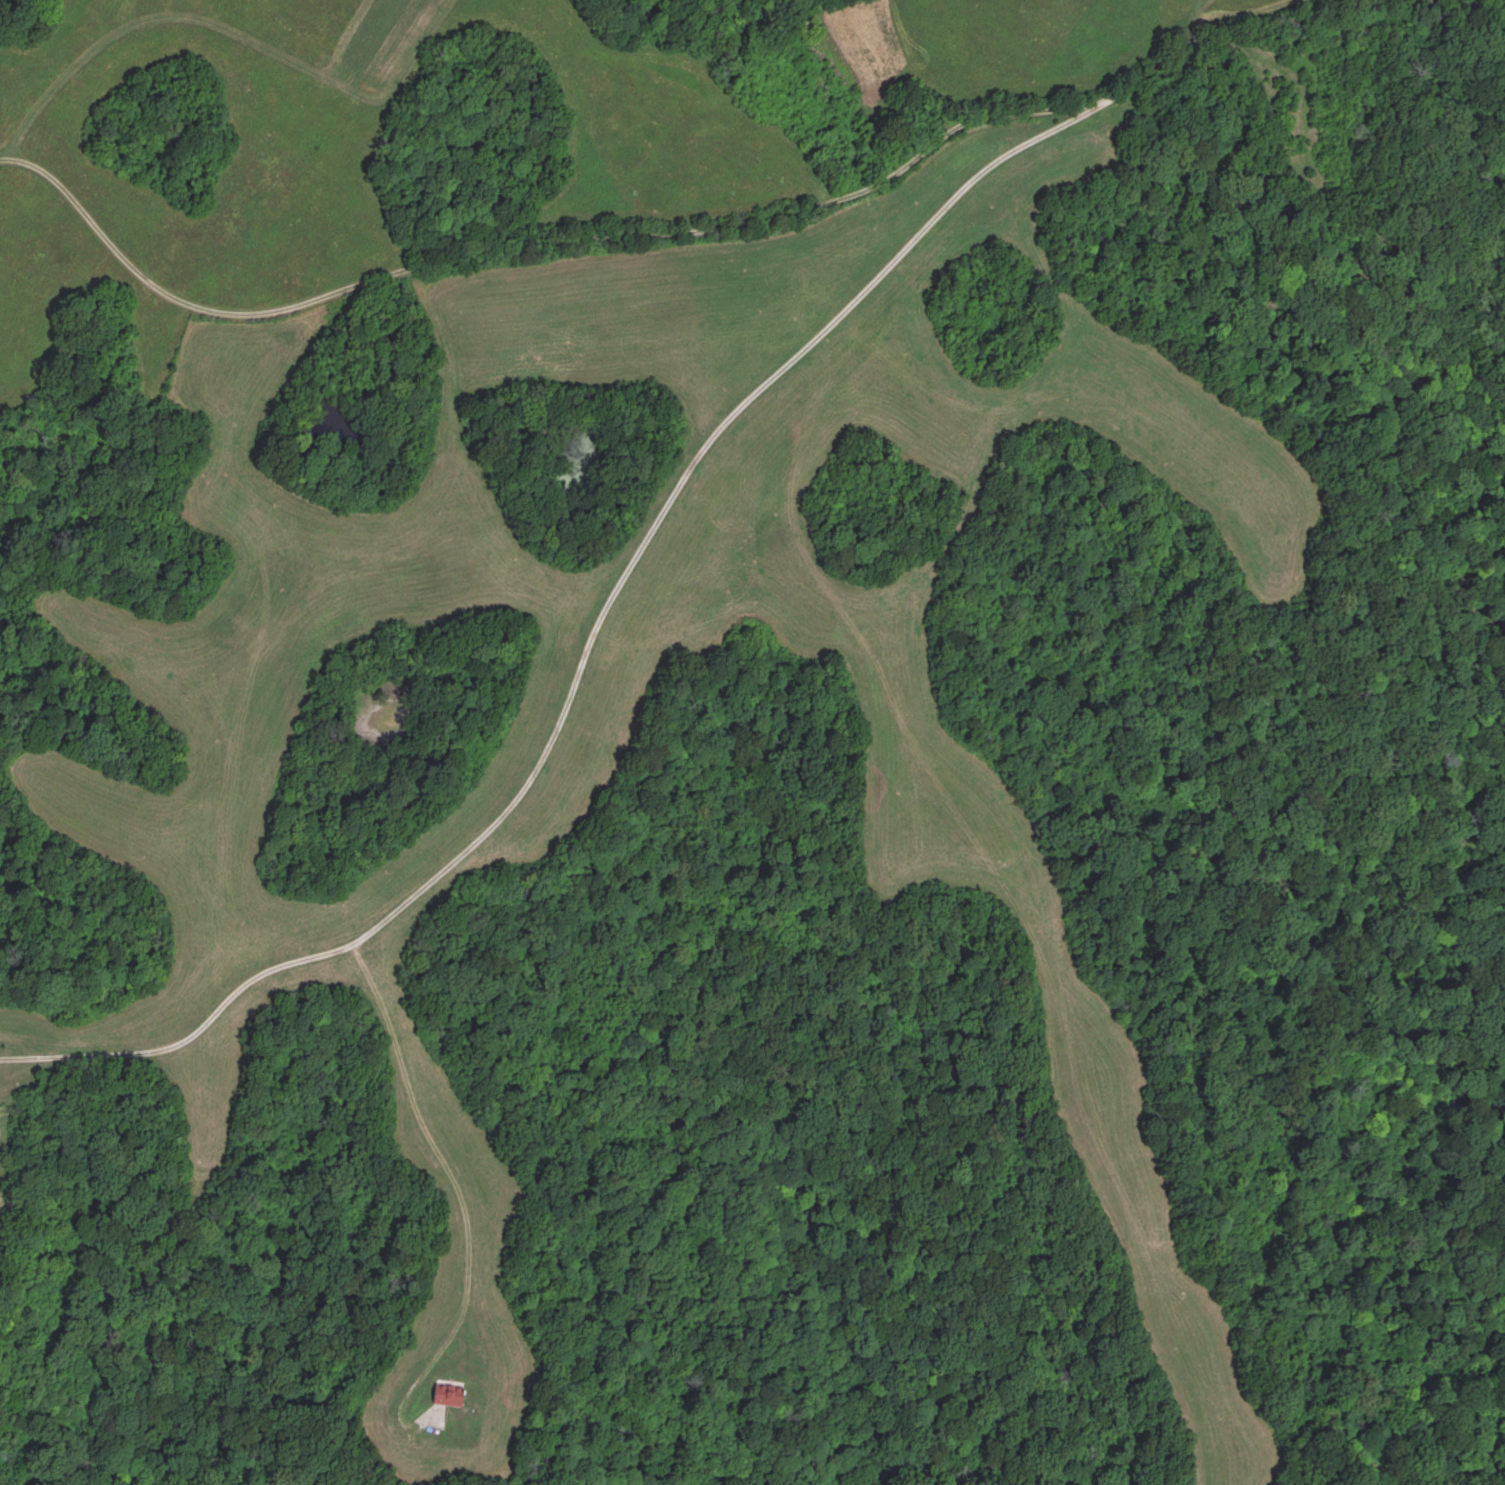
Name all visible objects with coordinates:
road: (1327, 81)
road: (609, 599)
road: (448, 1298)

